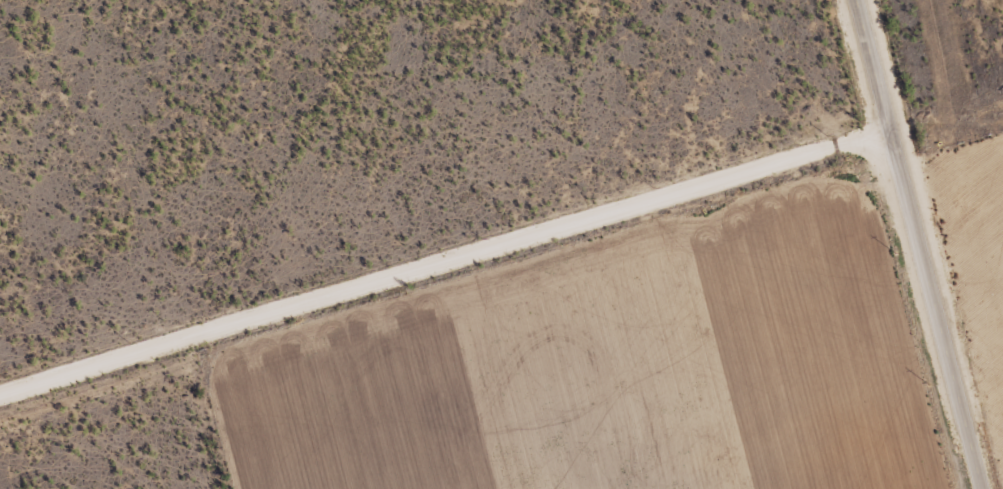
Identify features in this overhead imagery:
road: (913, 244)
road: (442, 263)

